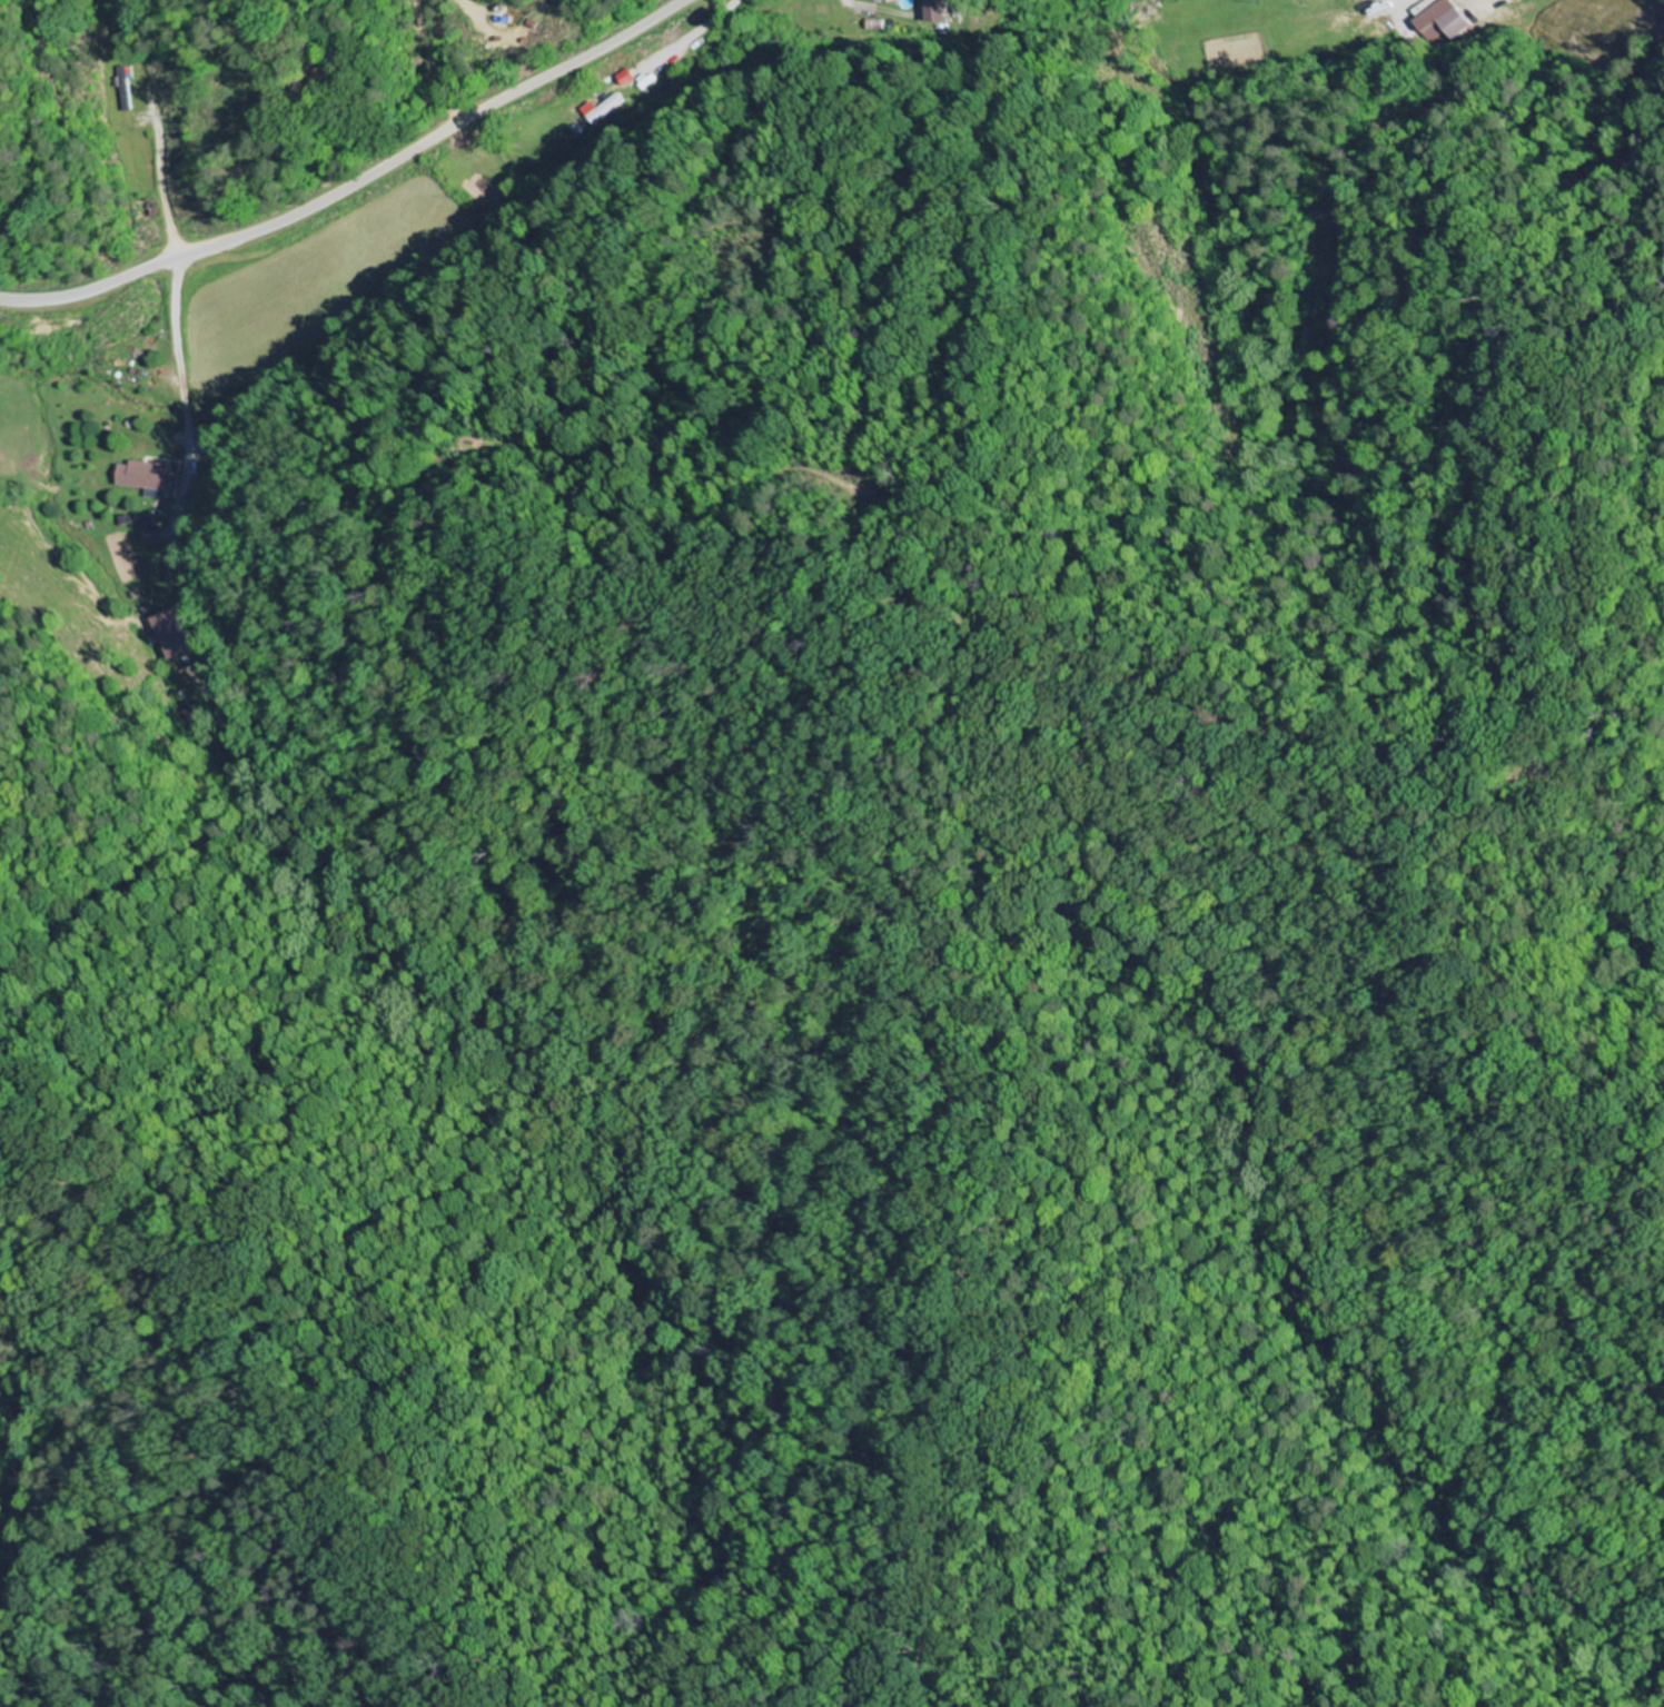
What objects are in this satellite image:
building: (889, 0)
building: (940, 11)
building: (1436, 20)
building: (129, 87)
road: (359, 181)
building: (148, 479)
building: (150, 523)
building: (177, 634)

